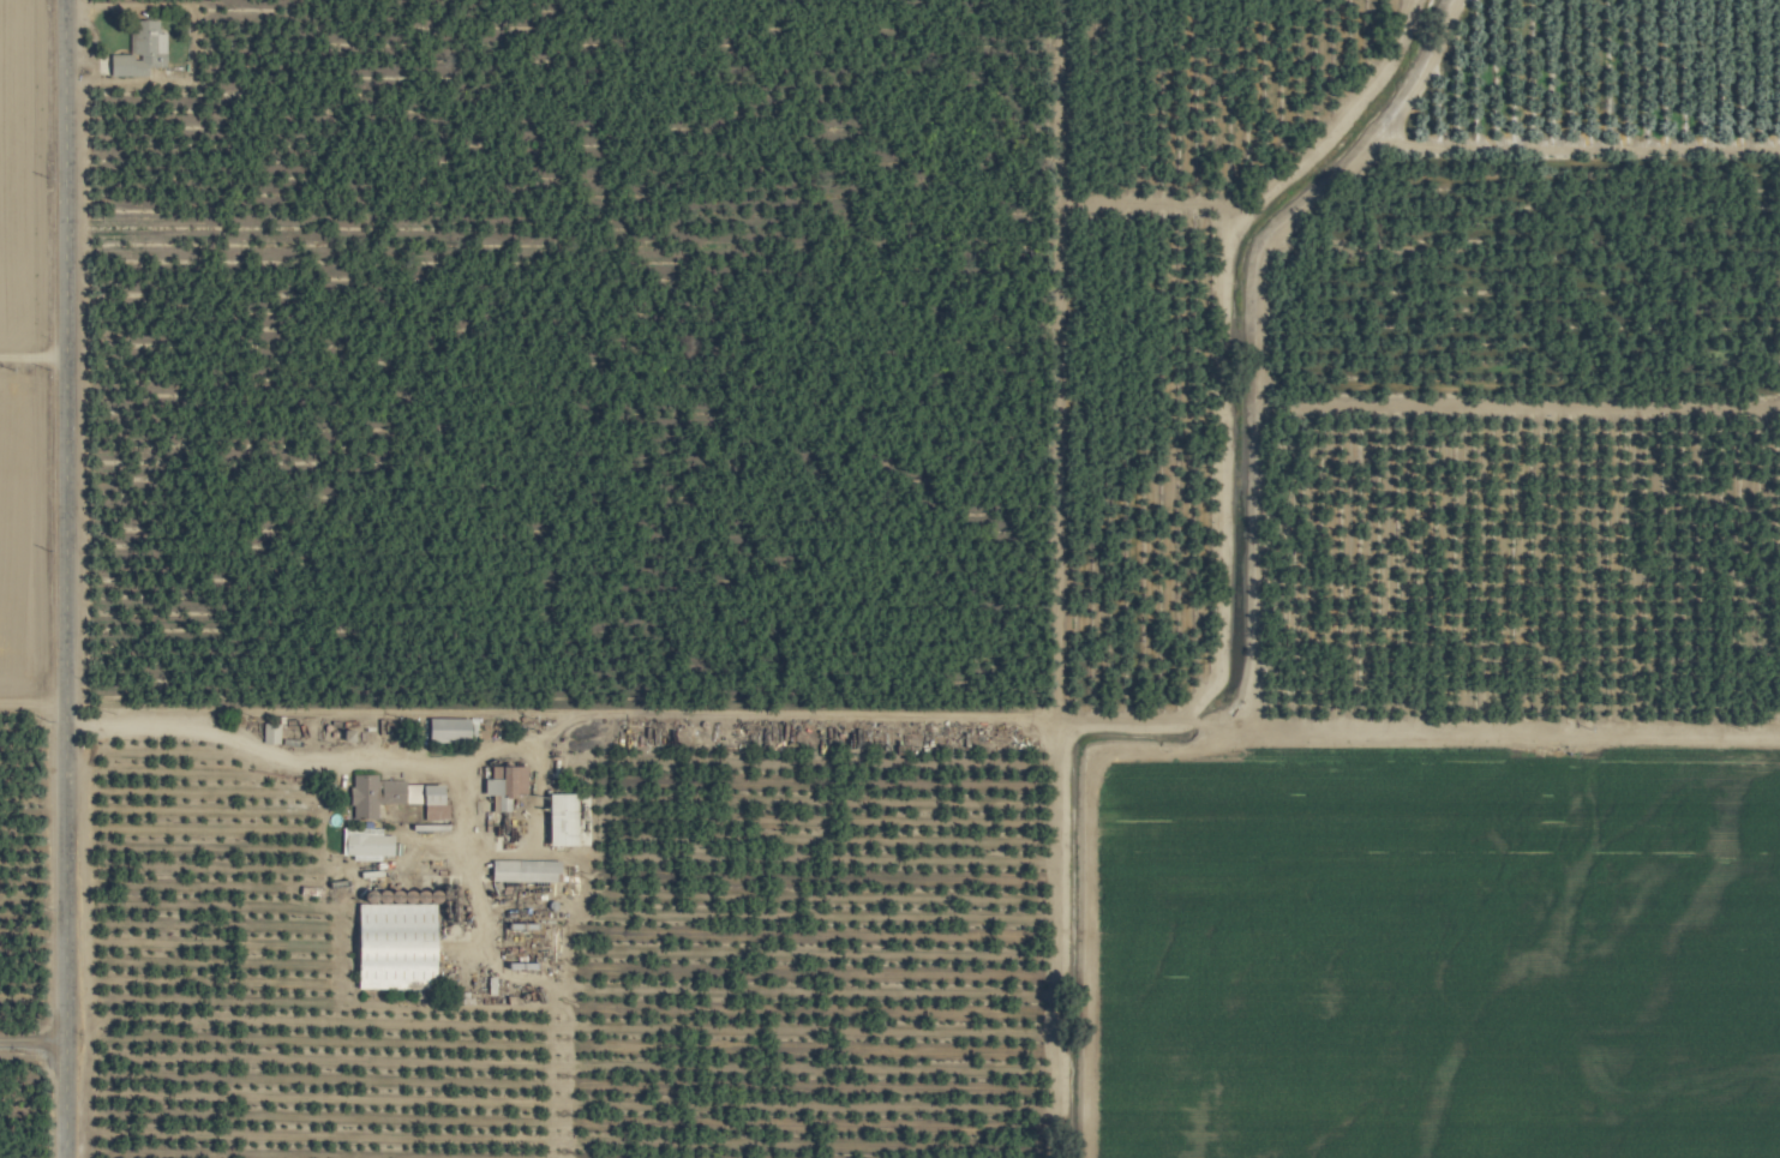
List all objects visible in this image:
building: (137, 50)
road: (35, 356)
road: (70, 578)
crop: (889, 578)
building: (443, 731)
road: (244, 743)
building: (501, 785)
building: (390, 797)
building: (555, 820)
building: (361, 845)
building: (520, 871)
road: (35, 1038)

